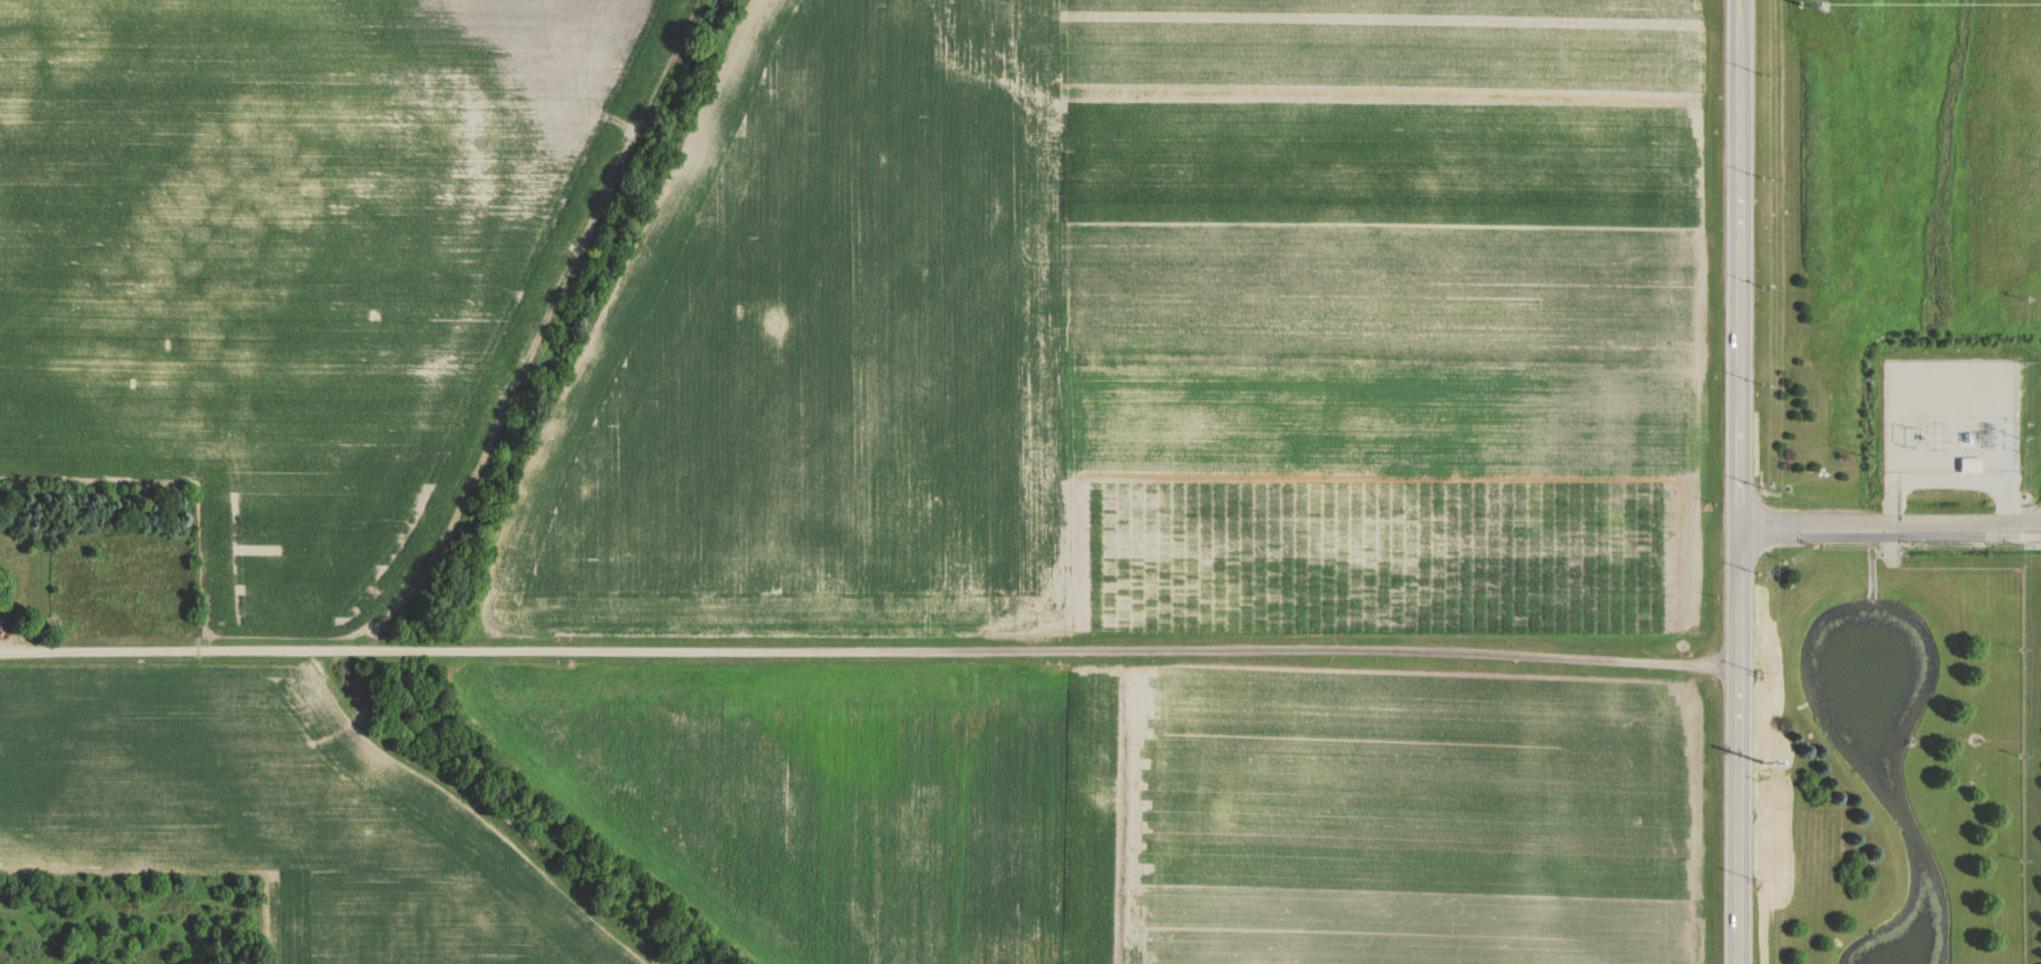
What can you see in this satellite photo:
power tower: (1803, 5)
power substation: (1951, 416)
building: (1971, 466)
road: (1737, 481)
road: (1952, 483)
road: (1896, 500)
road: (2009, 500)
road: (1889, 527)
road: (868, 647)
power tower: (1764, 763)

